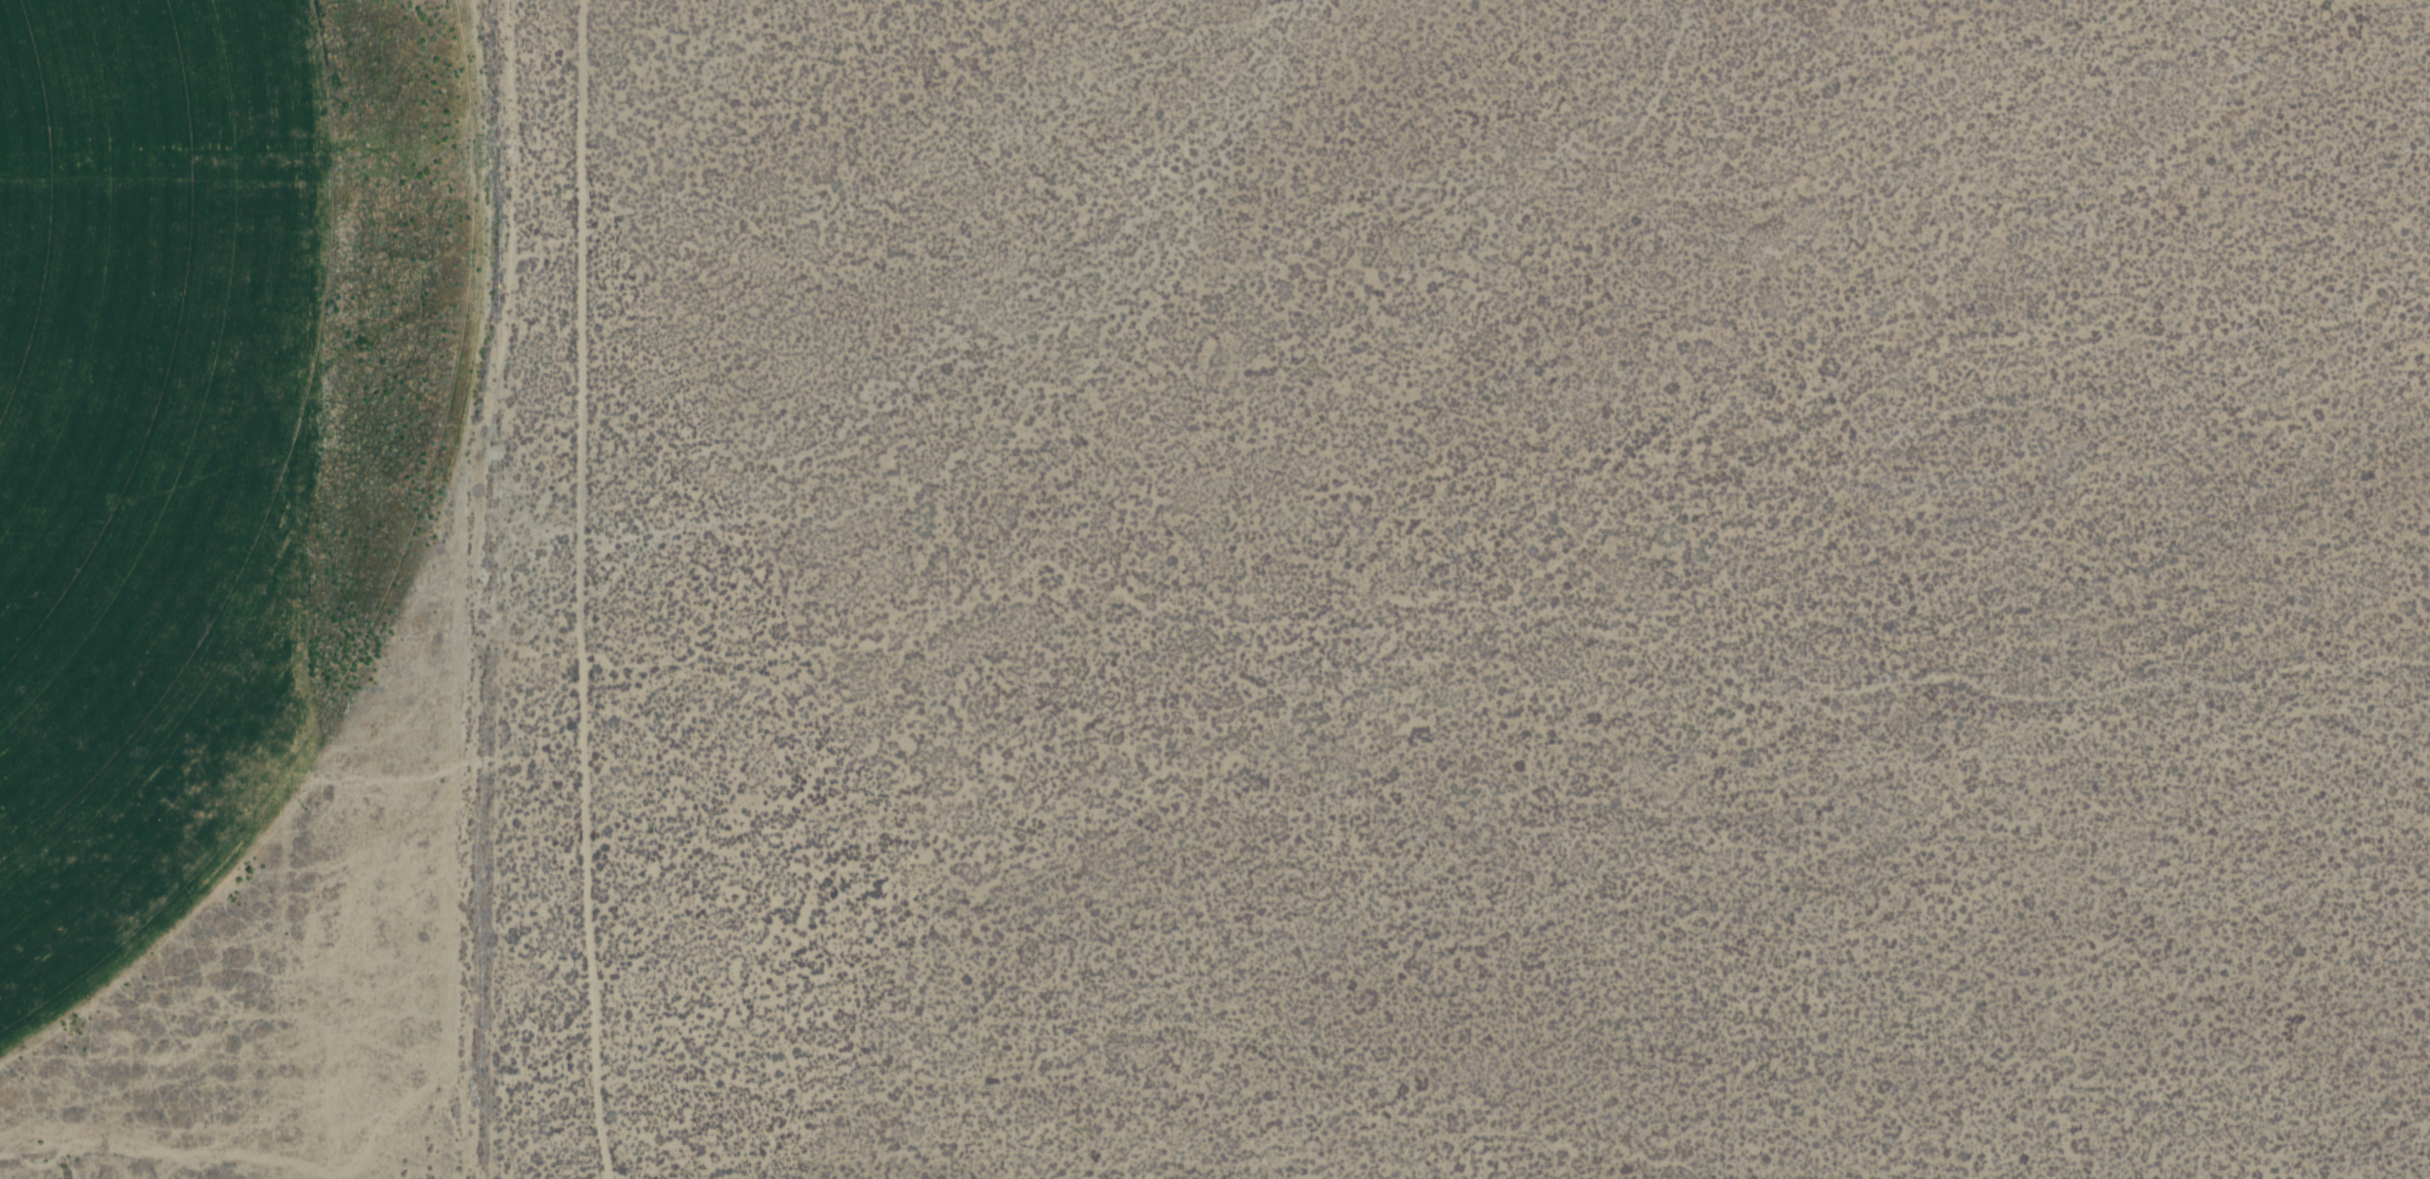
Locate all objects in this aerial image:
crop: (209, 428)
road: (476, 587)
road: (580, 589)

